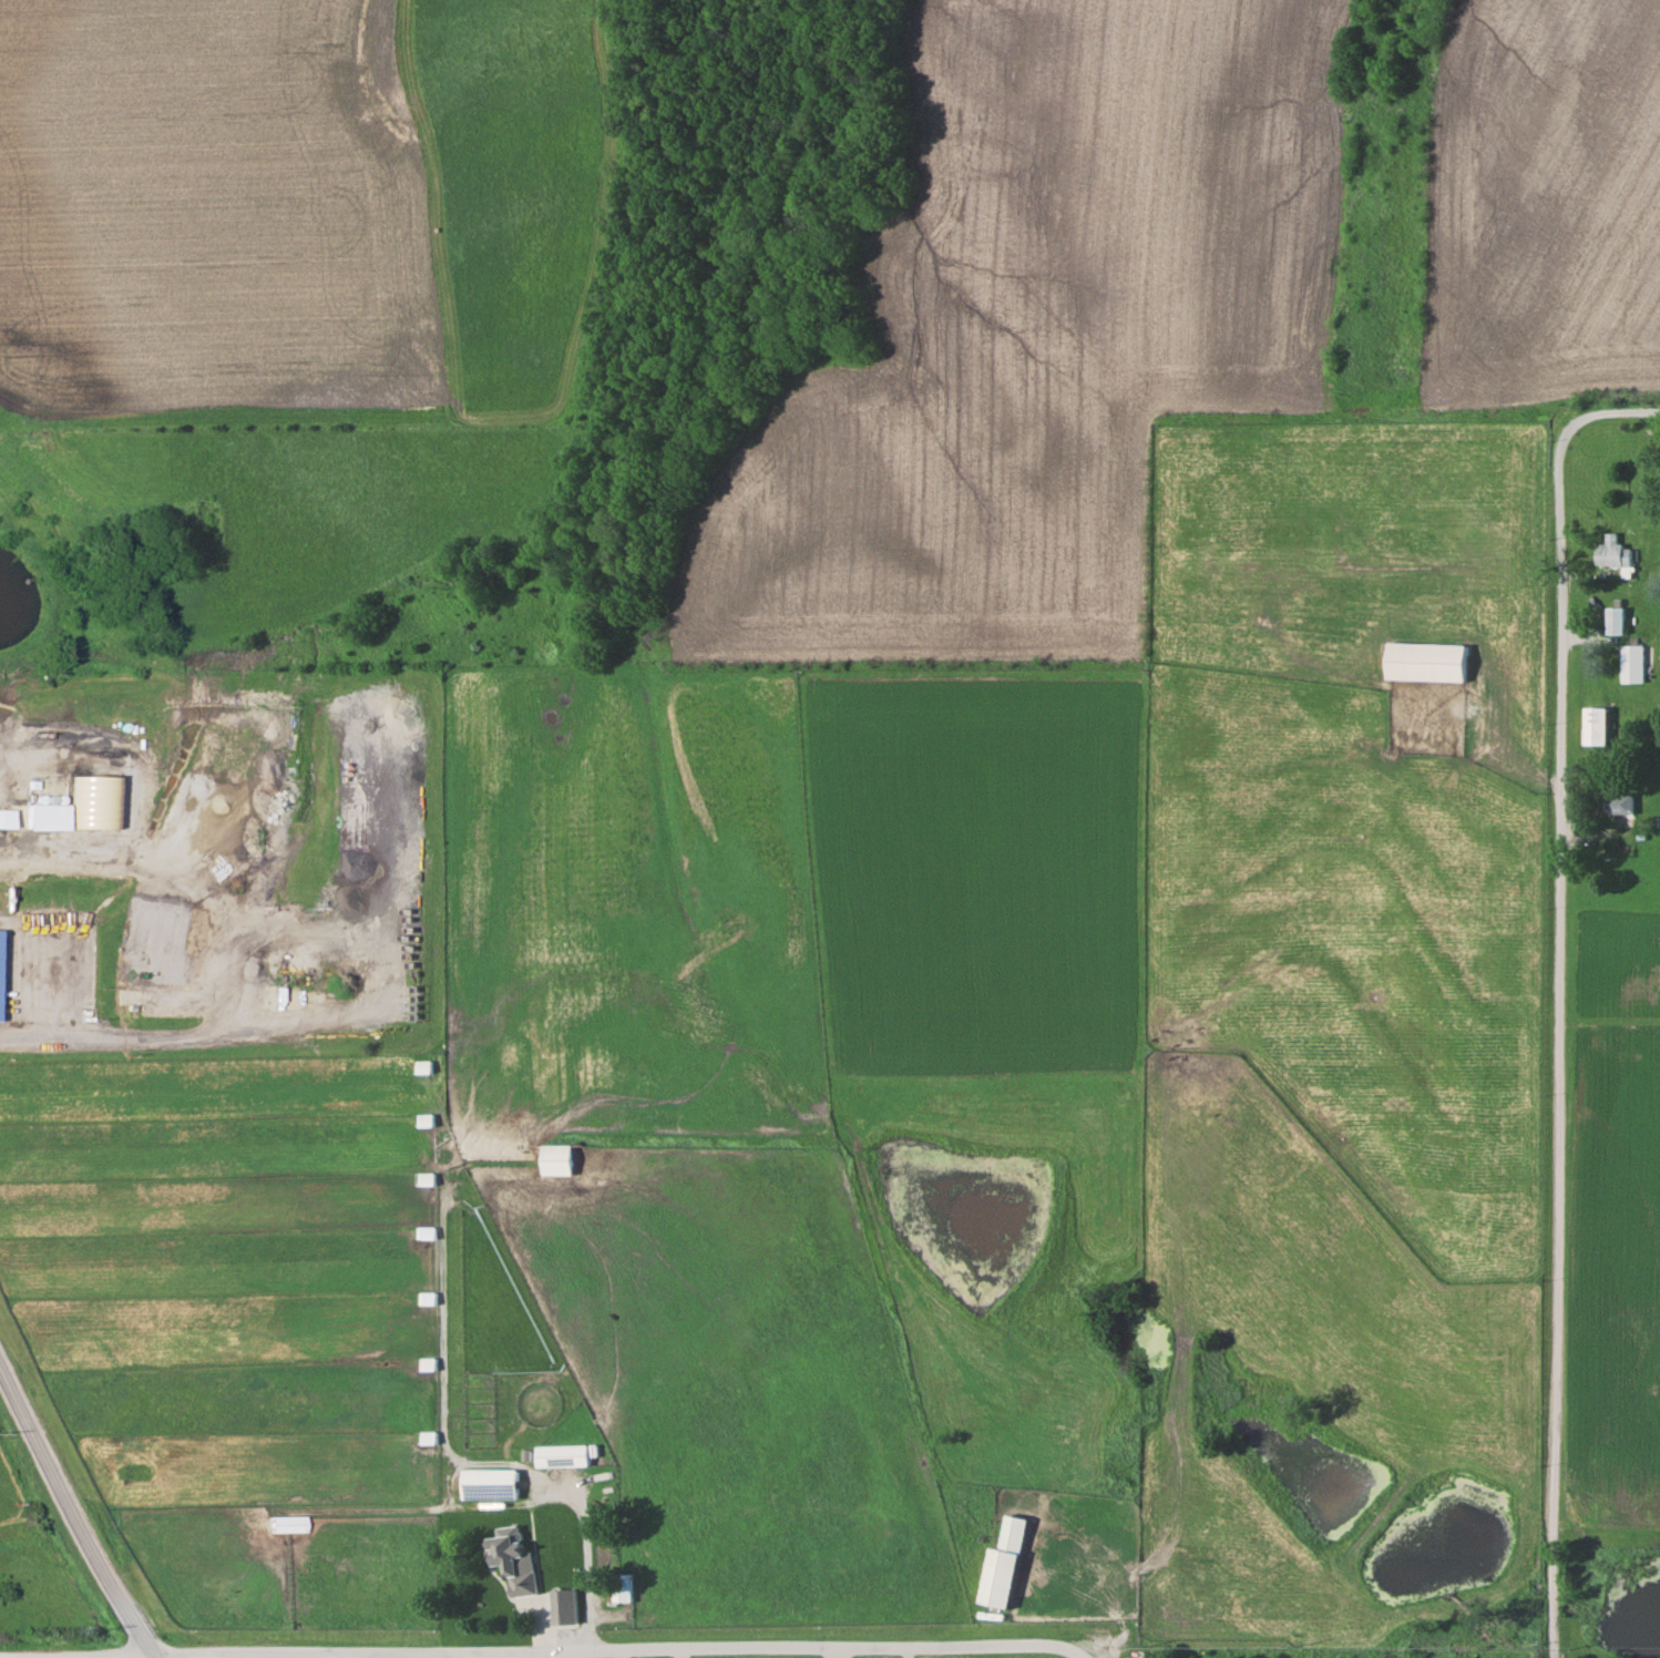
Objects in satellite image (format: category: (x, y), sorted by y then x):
crop: (1539, 199)
crop: (1031, 334)
building: (1616, 553)
building: (1616, 621)
building: (1427, 662)
building: (1631, 664)
building: (1596, 726)
building: (1620, 799)
building: (93, 804)
building: (43, 817)
building: (130, 996)
road: (1561, 999)
road: (1610, 1021)
building: (421, 1065)
building: (555, 1159)
building: (562, 1455)
building: (490, 1483)
road: (75, 1513)
building: (285, 1523)
building: (515, 1559)
building: (1002, 1563)
building: (623, 1586)
building: (565, 1605)
road: (615, 1651)
road: (355, 1654)
building: (1145, 1654)
road: (834, 1655)
road: (110, 1656)

